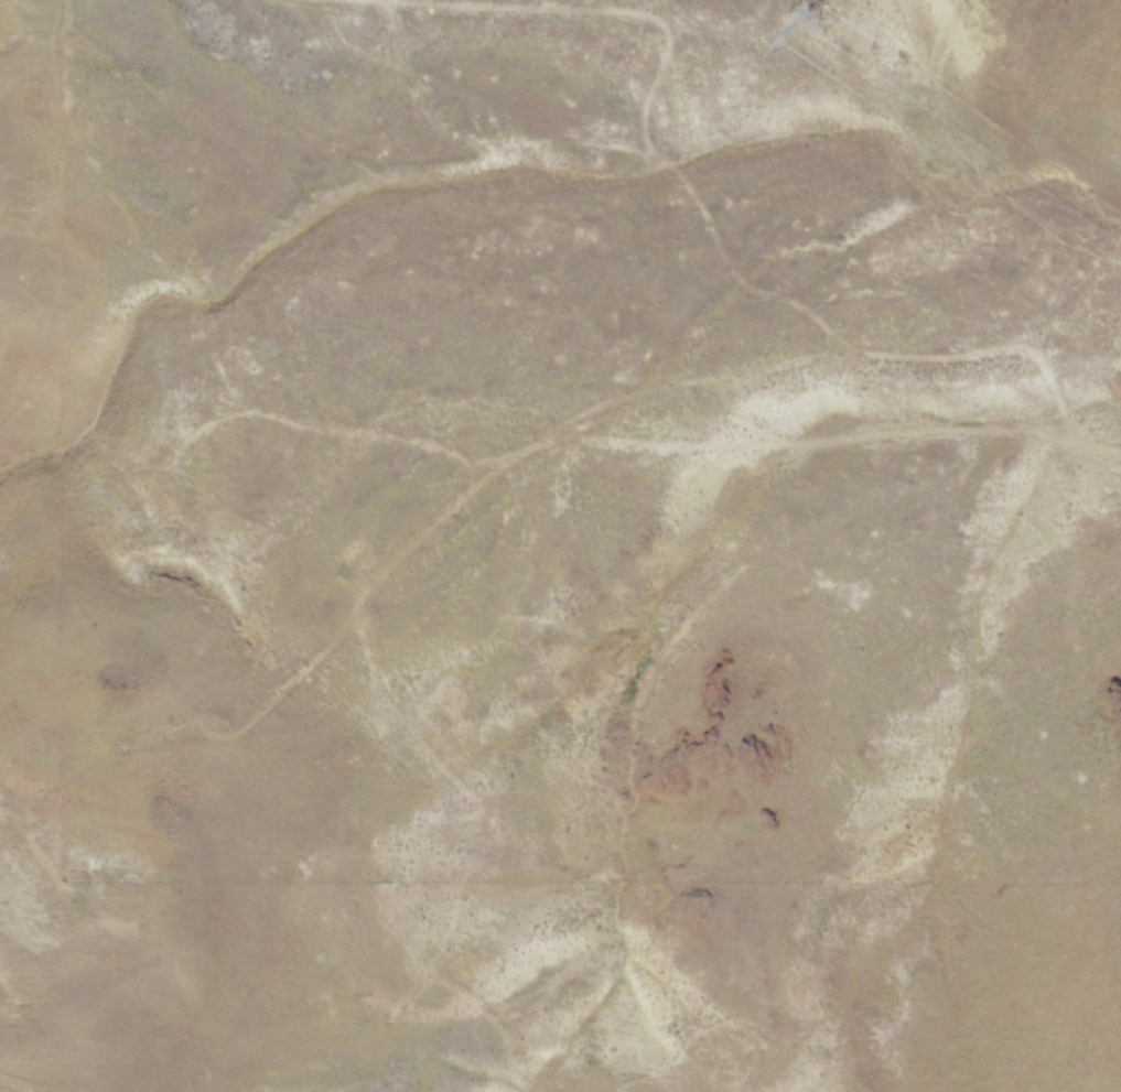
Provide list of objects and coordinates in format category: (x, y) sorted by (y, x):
power tower: (829, 20)
road: (662, 62)
road: (200, 325)
road: (645, 390)
road: (811, 441)
road: (489, 859)

